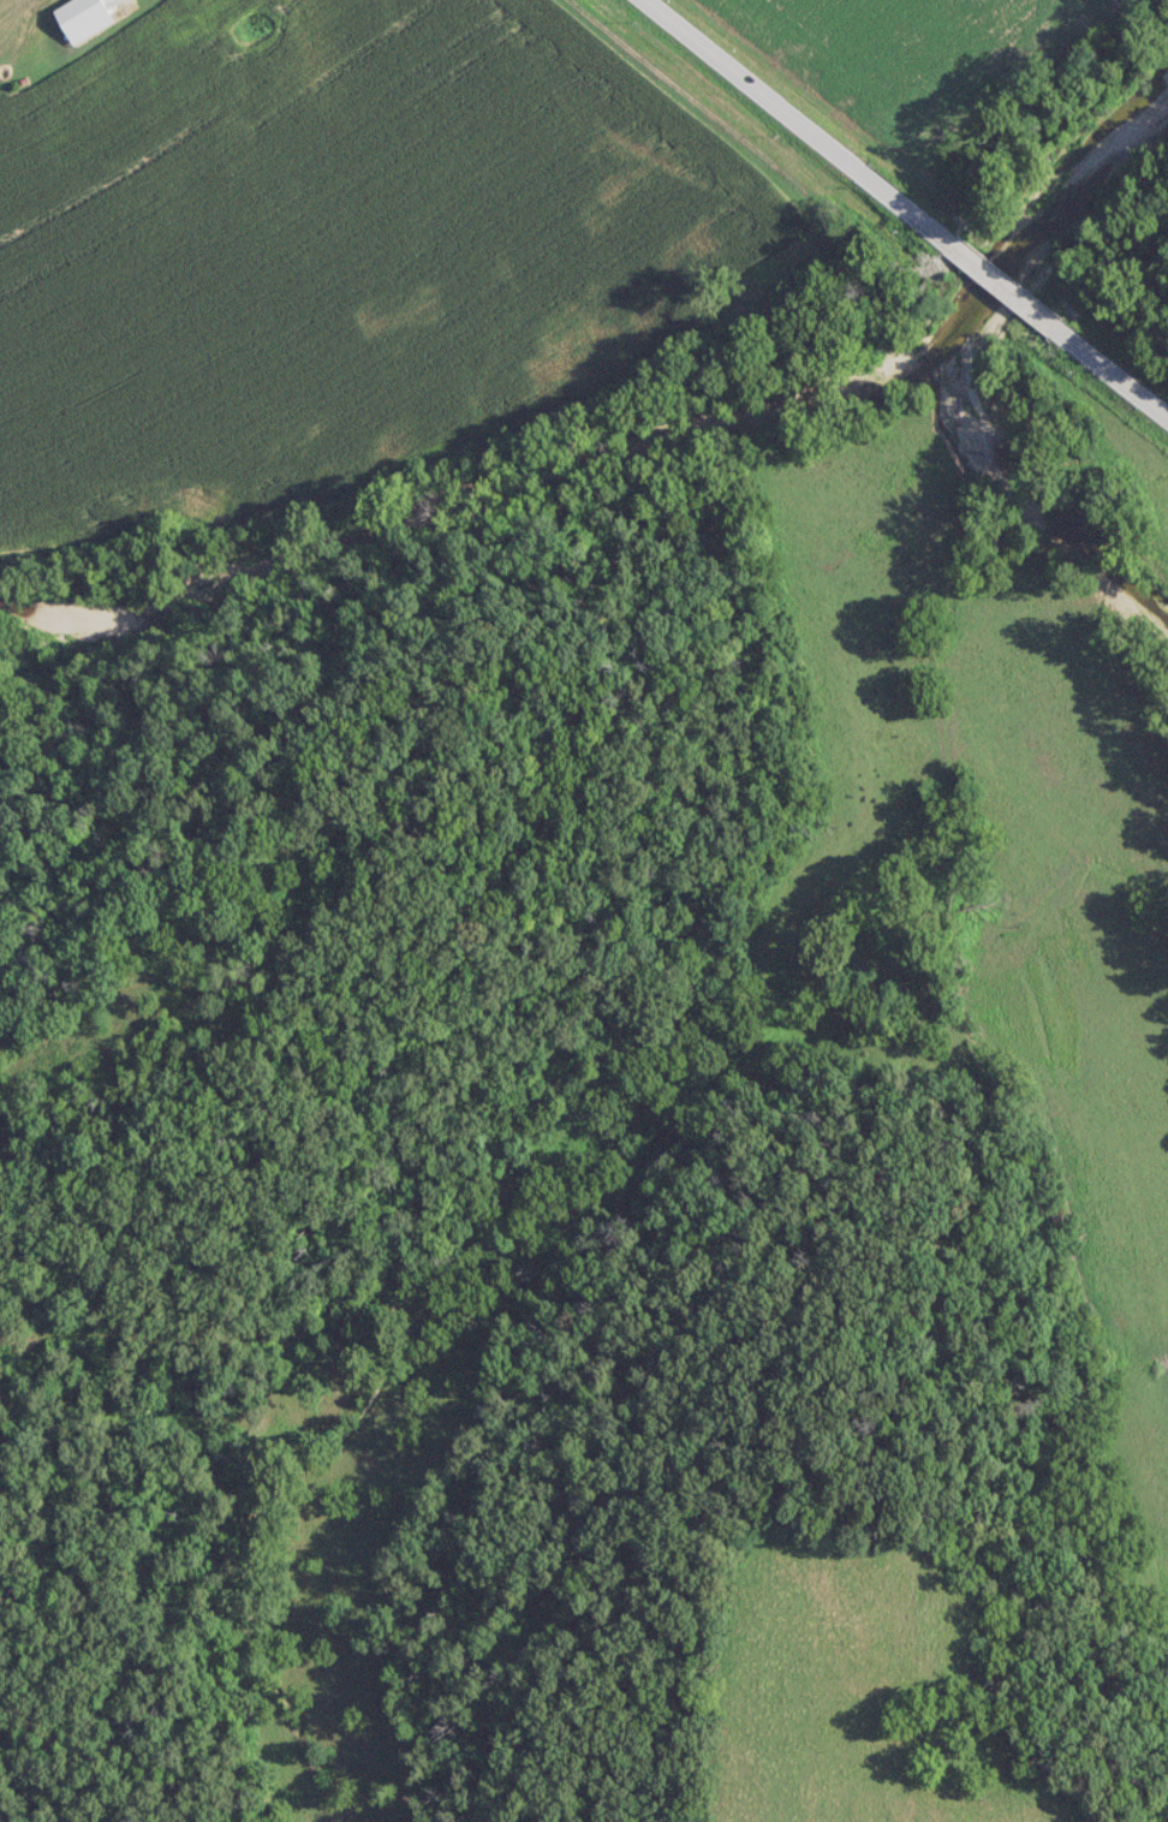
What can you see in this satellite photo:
road: (780, 108)
road: (989, 275)
road: (1115, 375)

